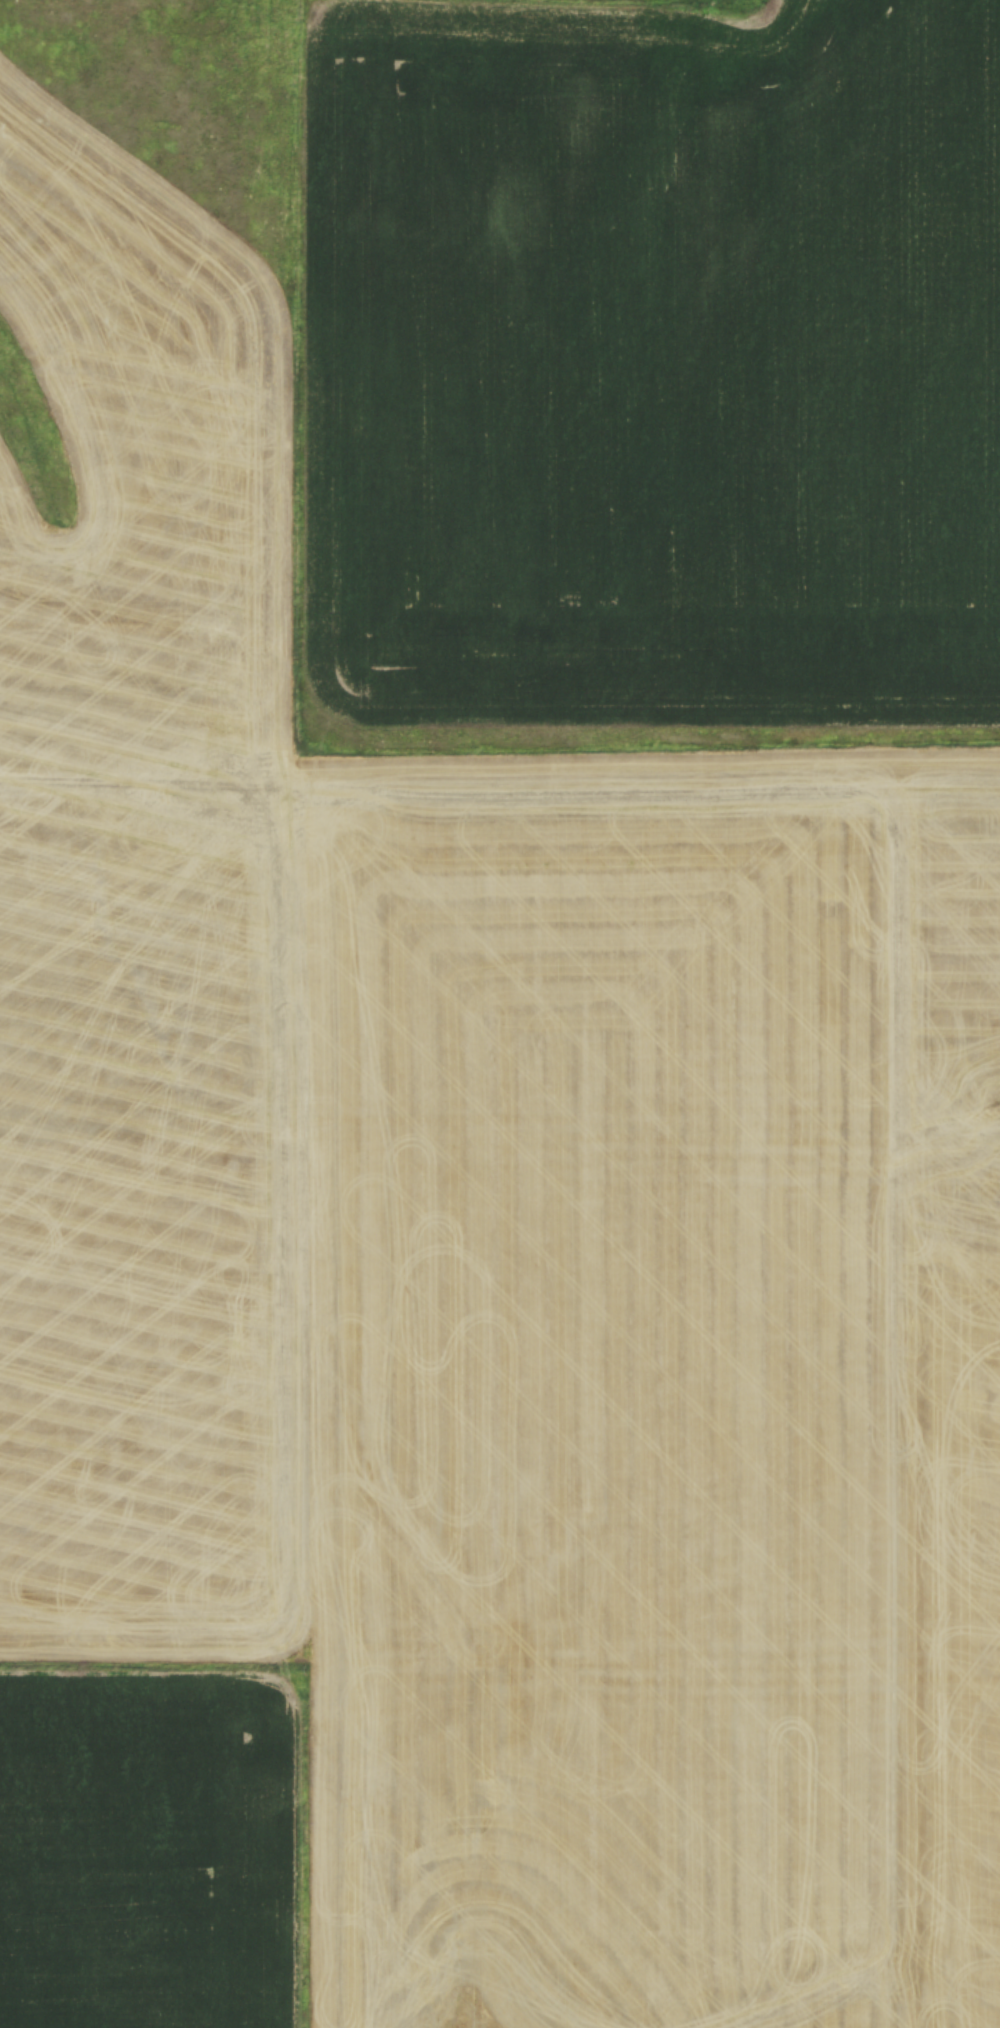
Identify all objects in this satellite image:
crop: (142, 1855)

